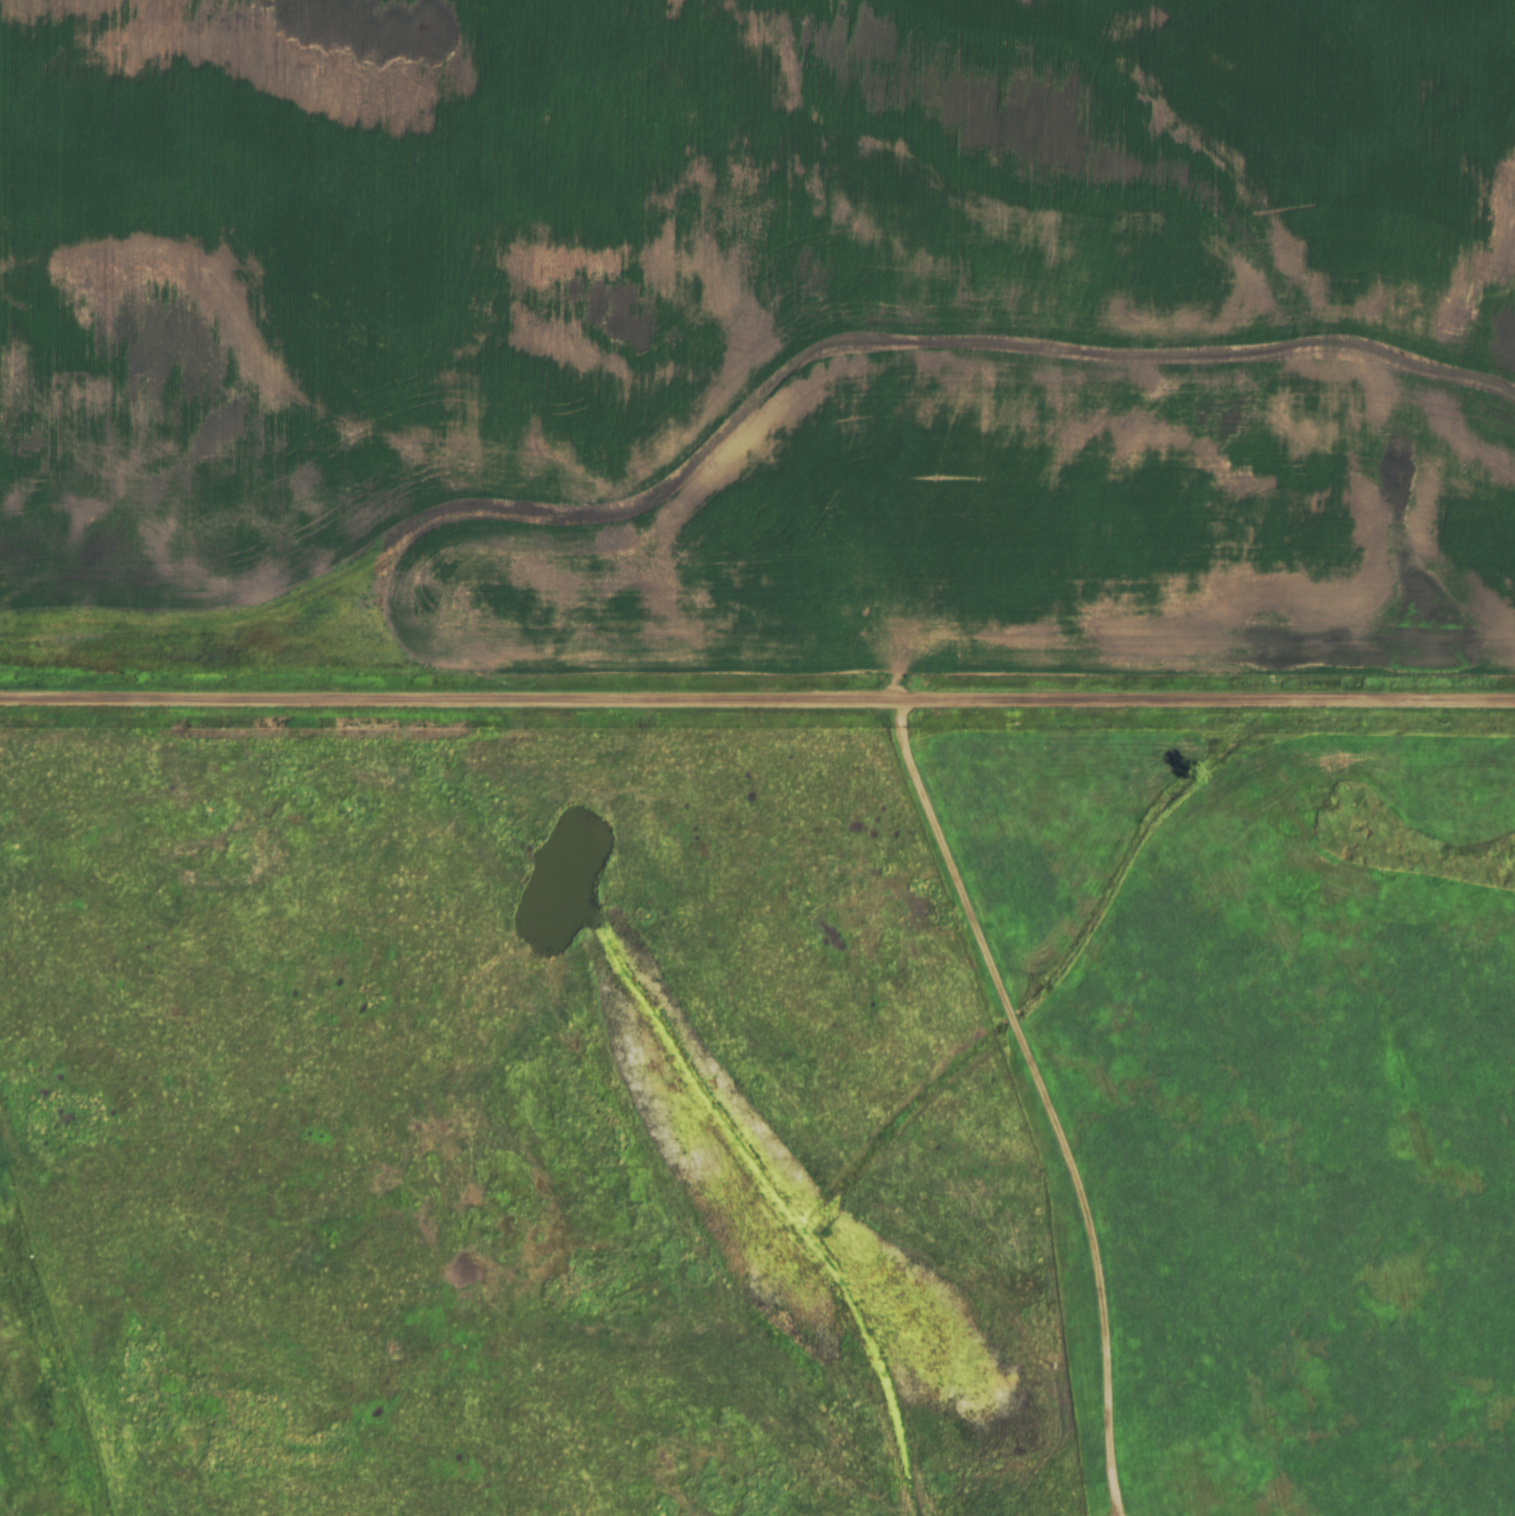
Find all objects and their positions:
road: (757, 701)
road: (1044, 1100)

